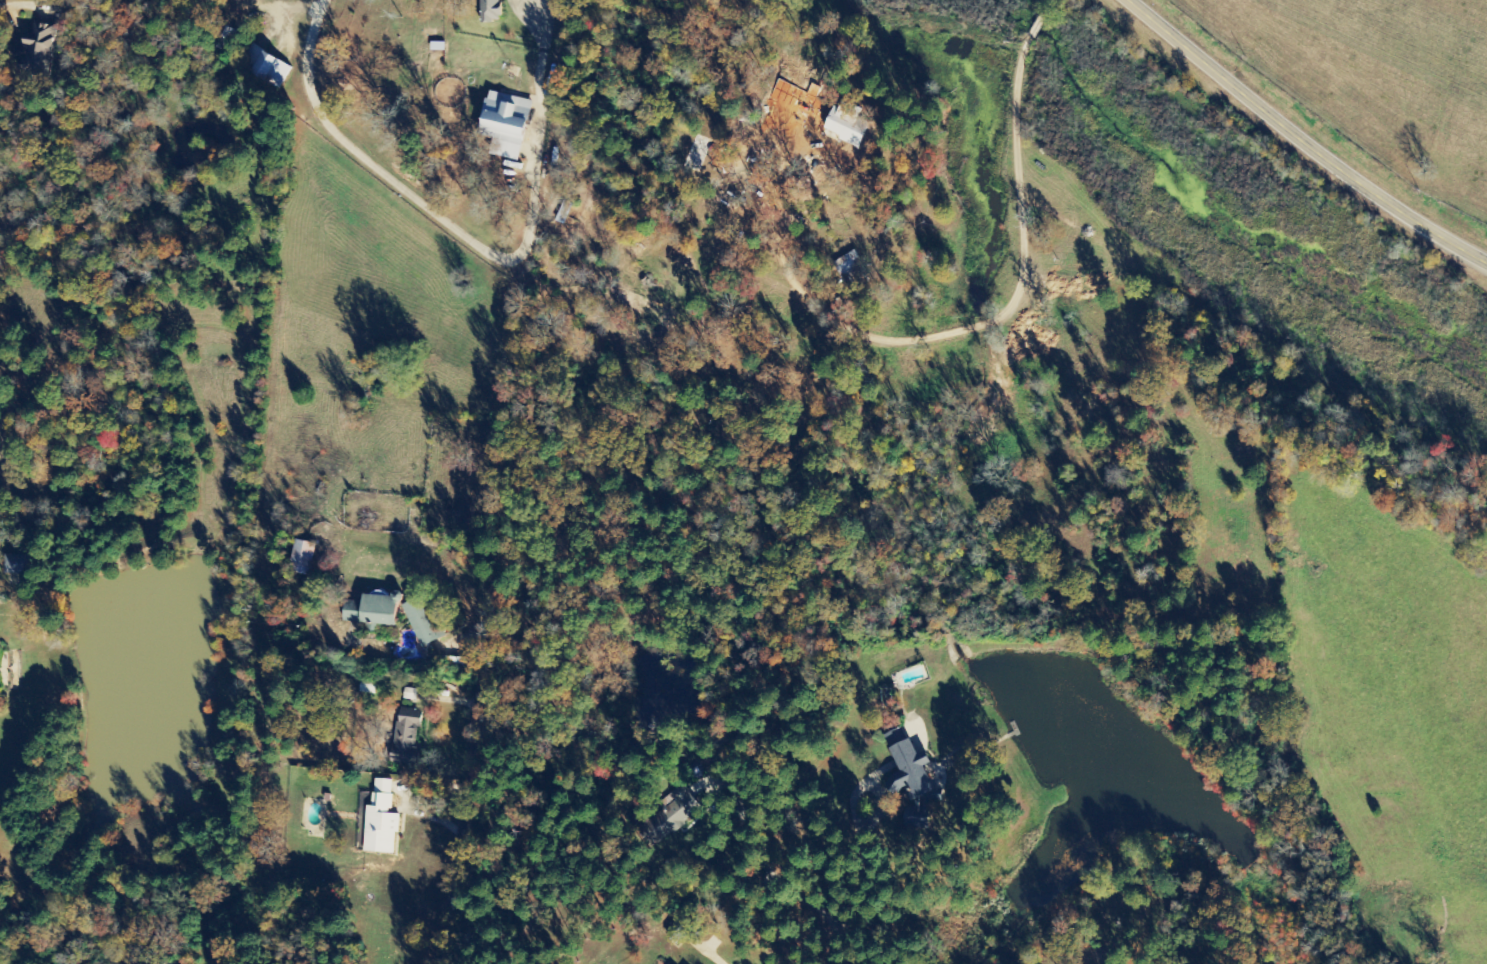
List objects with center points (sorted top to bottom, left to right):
building: (495, 10)
building: (40, 48)
road: (1200, 56)
building: (267, 66)
building: (844, 121)
building: (509, 124)
road: (1374, 195)
road: (448, 225)
building: (304, 558)
building: (22, 564)
building: (378, 612)
building: (426, 623)
building: (414, 694)
building: (411, 739)
building: (913, 769)
building: (681, 812)
building: (385, 821)
road: (466, 821)
building: (681, 932)
road: (713, 957)

